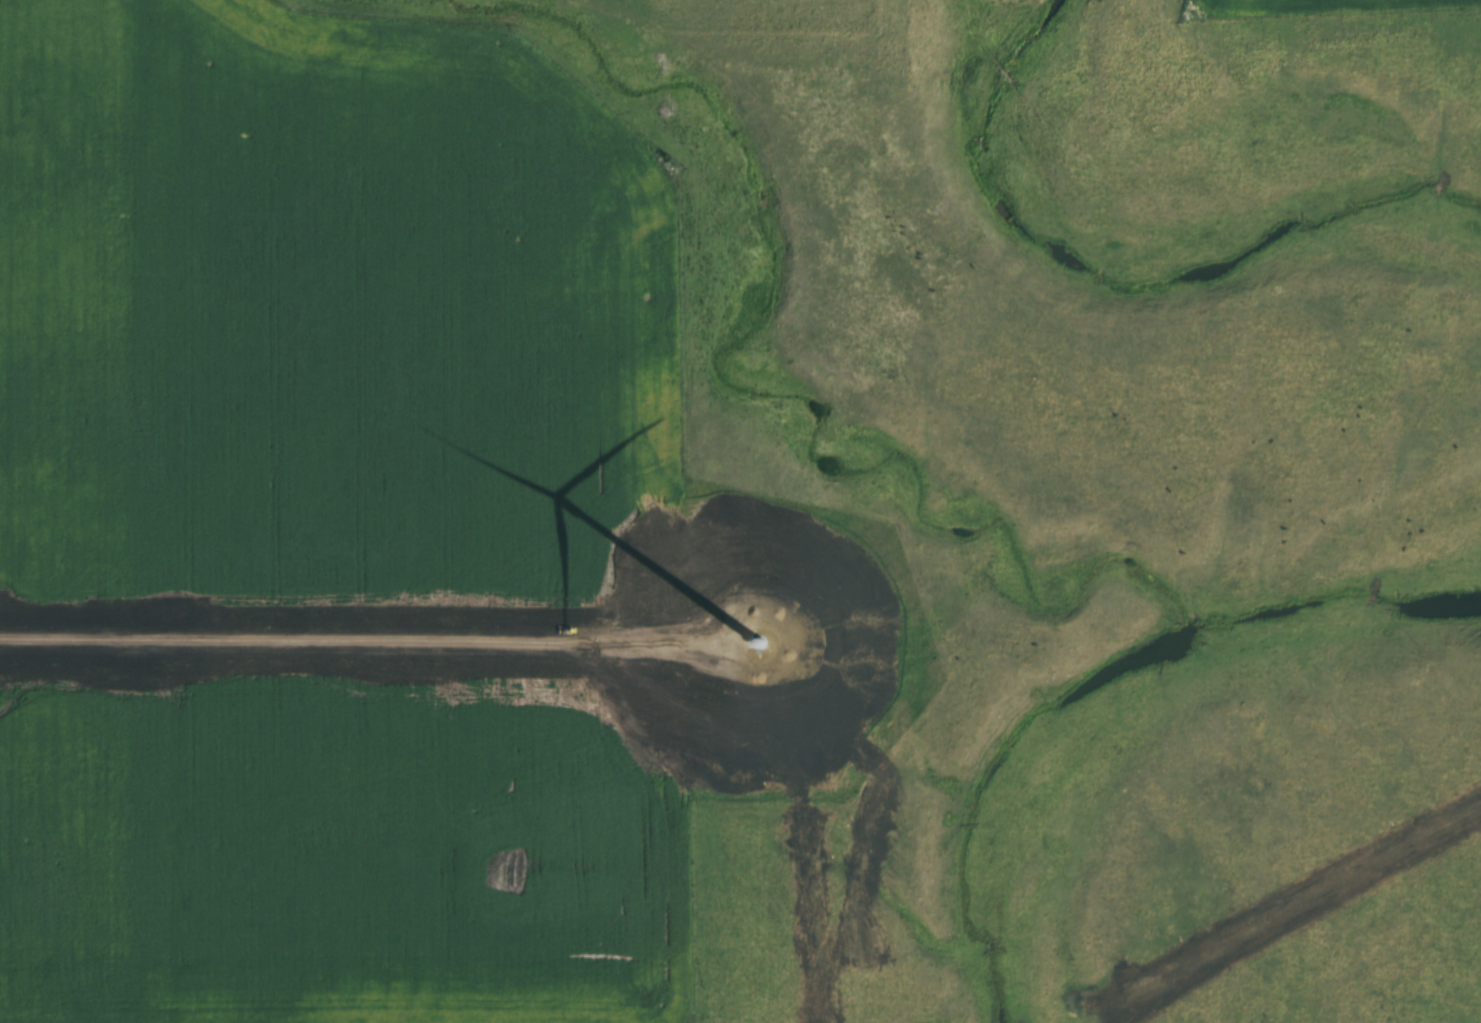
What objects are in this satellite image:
wind turbine: (760, 642)

